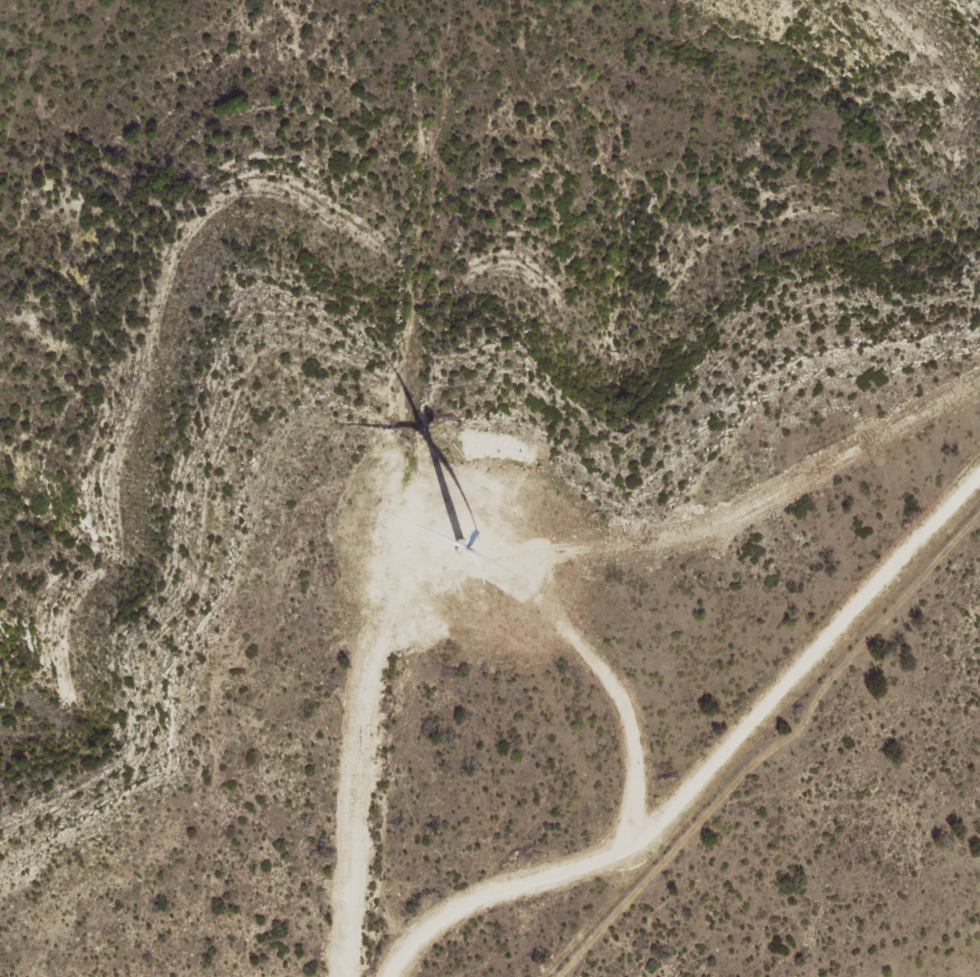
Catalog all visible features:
wind turbine: (457, 530)

